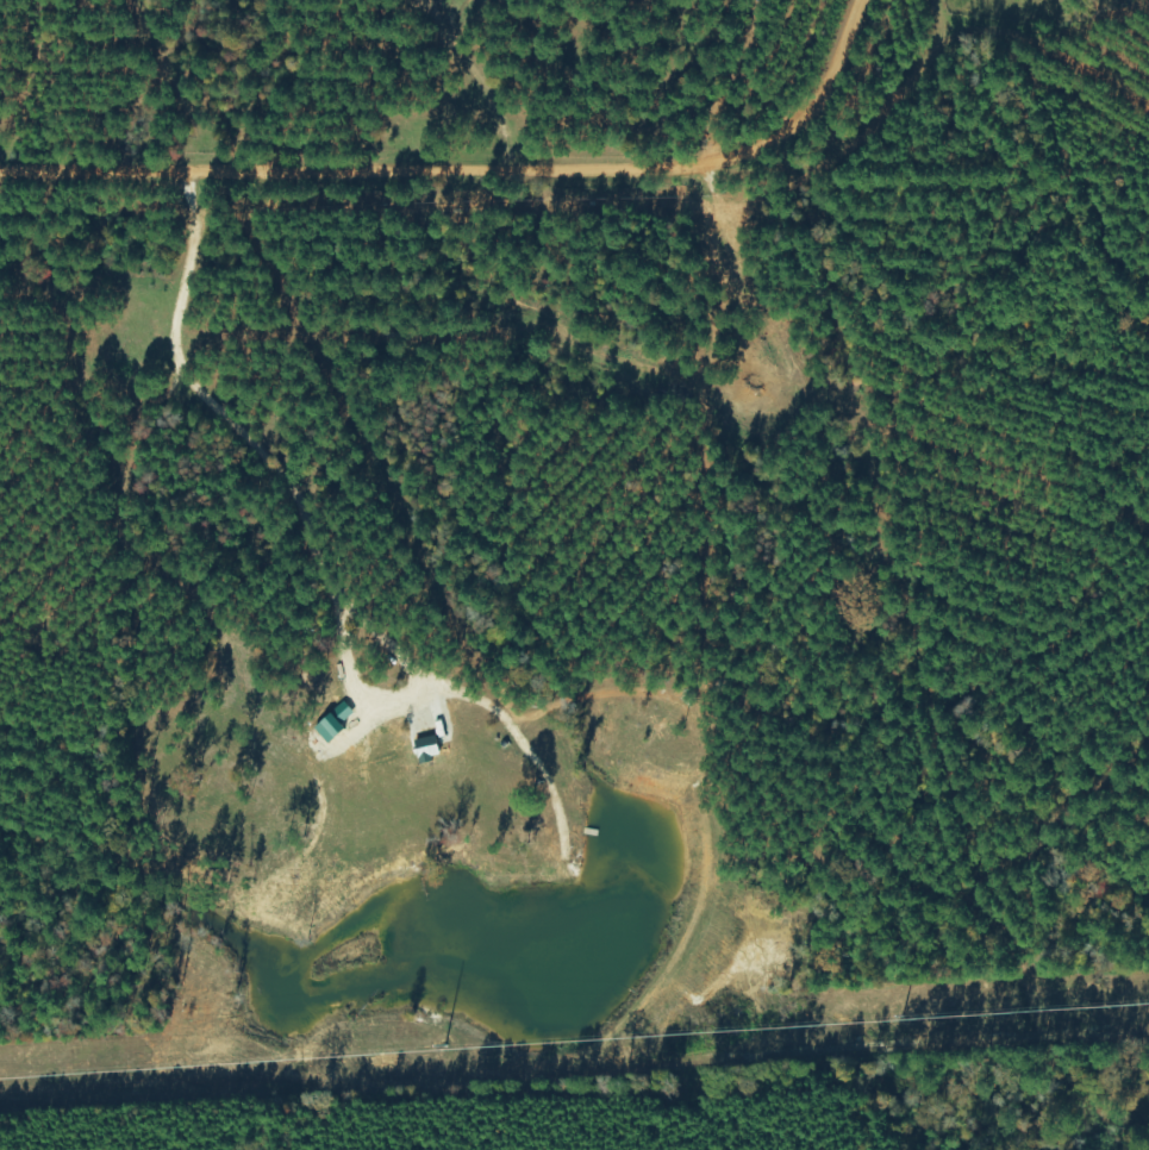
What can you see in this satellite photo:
road: (473, 170)
building: (333, 729)
power tower: (895, 1021)
power tower: (452, 1048)
power tower: (62, 1076)

